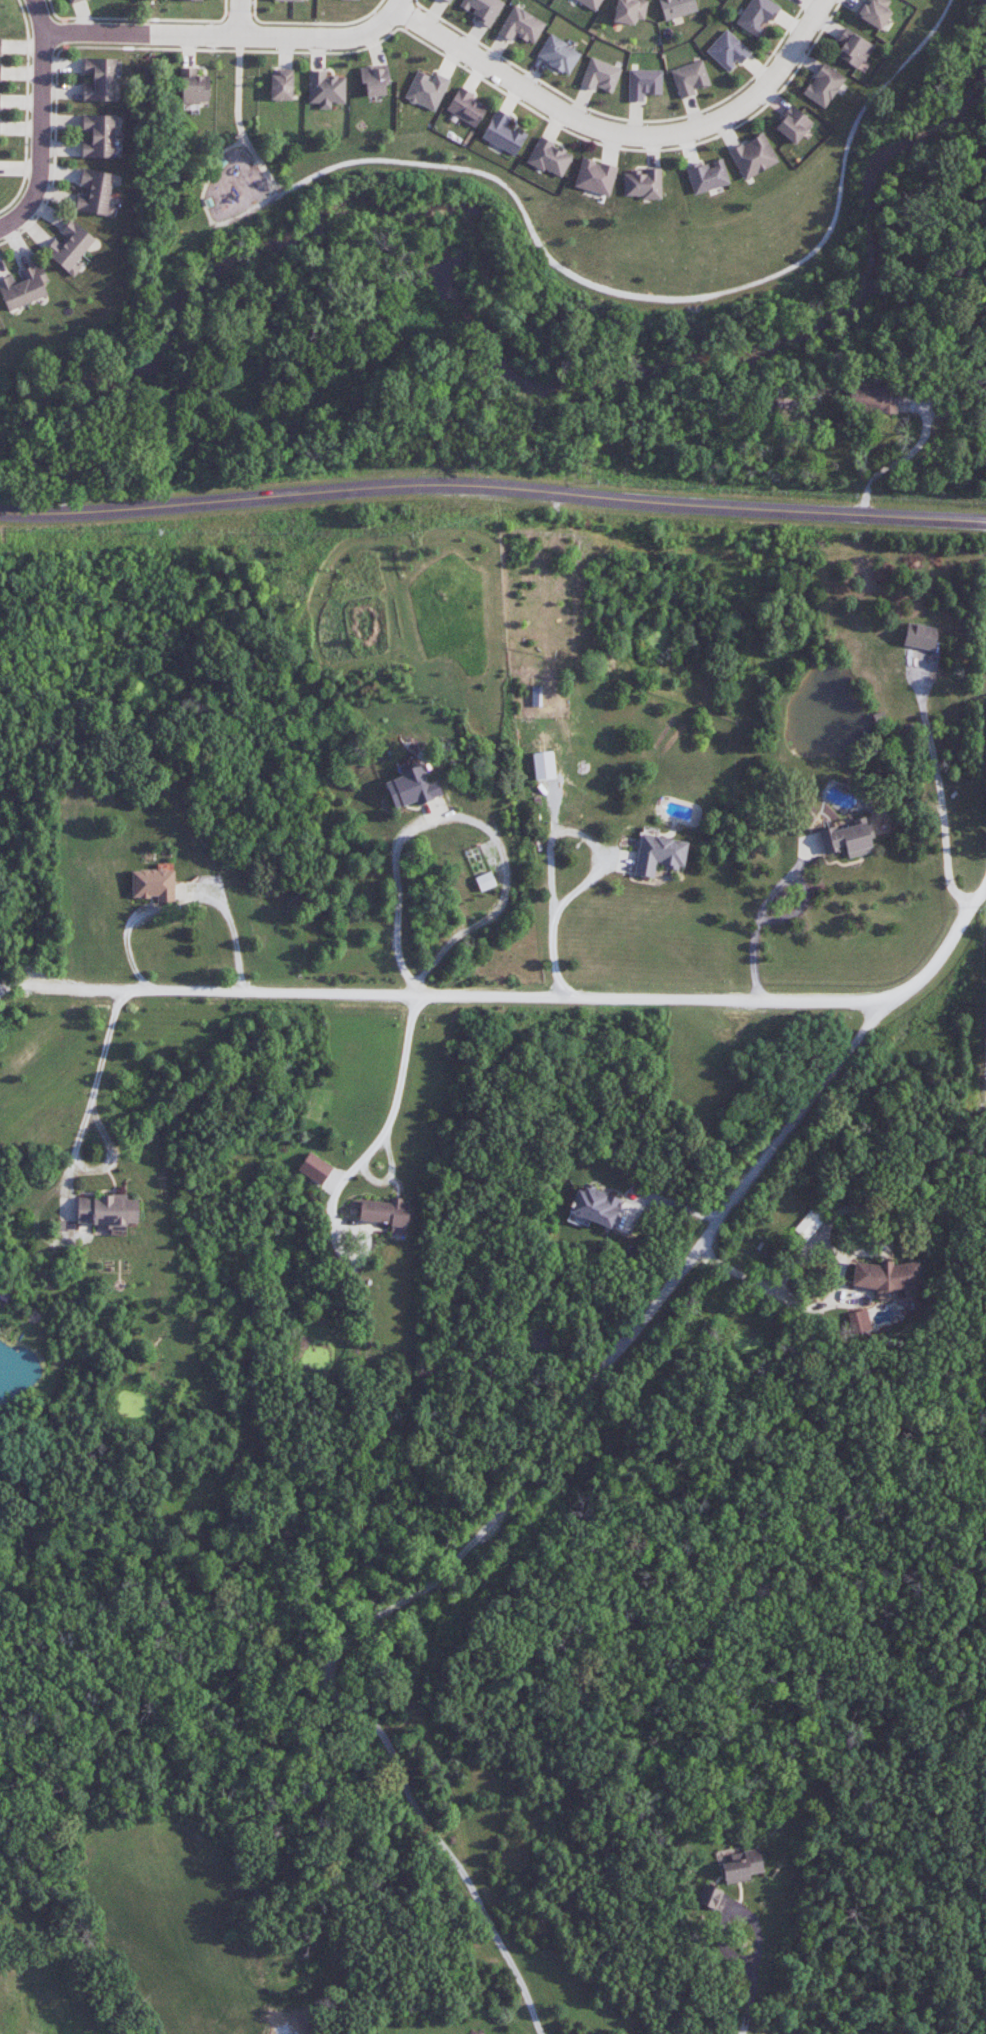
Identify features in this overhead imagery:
building: (192, 0)
building: (288, 0)
building: (74, 1)
building: (447, 1)
building: (591, 3)
building: (676, 8)
building: (483, 10)
building: (629, 11)
building: (873, 12)
road: (39, 16)
building: (757, 16)
road: (241, 19)
building: (521, 25)
road: (229, 38)
building: (0, 46)
building: (853, 49)
building: (727, 51)
building: (558, 54)
building: (0, 69)
building: (600, 75)
building: (99, 79)
building: (690, 79)
building: (375, 80)
building: (644, 84)
building: (281, 85)
building: (823, 85)
building: (193, 89)
building: (325, 89)
building: (426, 90)
building: (466, 107)
road: (237, 121)
building: (793, 125)
building: (502, 133)
building: (98, 136)
road: (623, 137)
road: (40, 138)
building: (753, 156)
building: (549, 158)
road: (207, 176)
building: (707, 176)
building: (595, 177)
building: (644, 184)
building: (94, 192)
road: (247, 211)
building: (69, 247)
park: (484, 255)
building: (23, 287)
road: (664, 298)
building: (872, 397)
road: (492, 489)
building: (920, 637)
building: (543, 765)
road: (939, 785)
building: (412, 788)
road: (460, 817)
building: (847, 839)
road: (549, 847)
building: (659, 854)
building: (485, 881)
building: (154, 883)
road: (759, 911)
road: (19, 984)
road: (539, 996)
road: (985, 1057)
road: (387, 1125)
road: (81, 1126)
building: (314, 1168)
building: (594, 1206)
building: (107, 1211)
building: (386, 1214)
building: (809, 1223)
building: (887, 1276)
road: (828, 1301)
building: (858, 1318)
road: (499, 1516)
building: (740, 1865)
building: (709, 1896)
road: (754, 1994)

